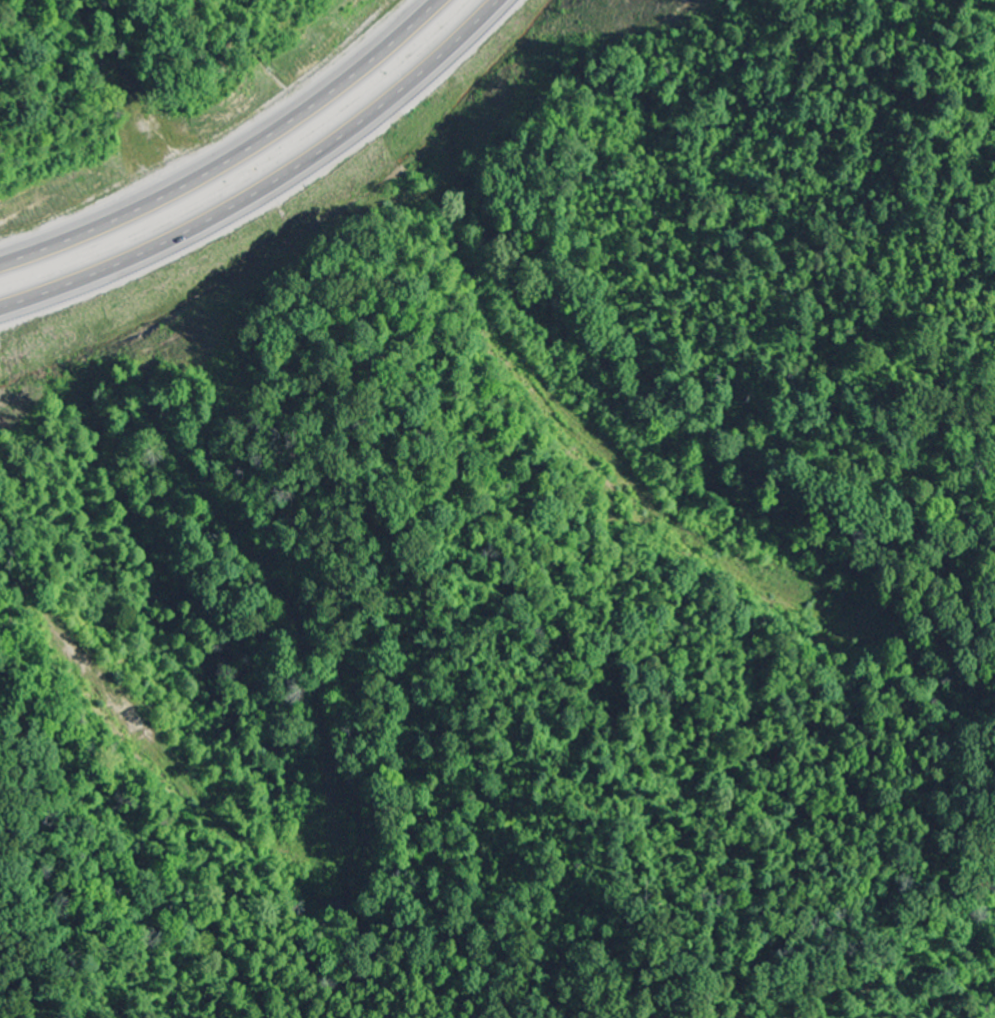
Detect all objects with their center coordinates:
road: (234, 155)
road: (270, 188)

